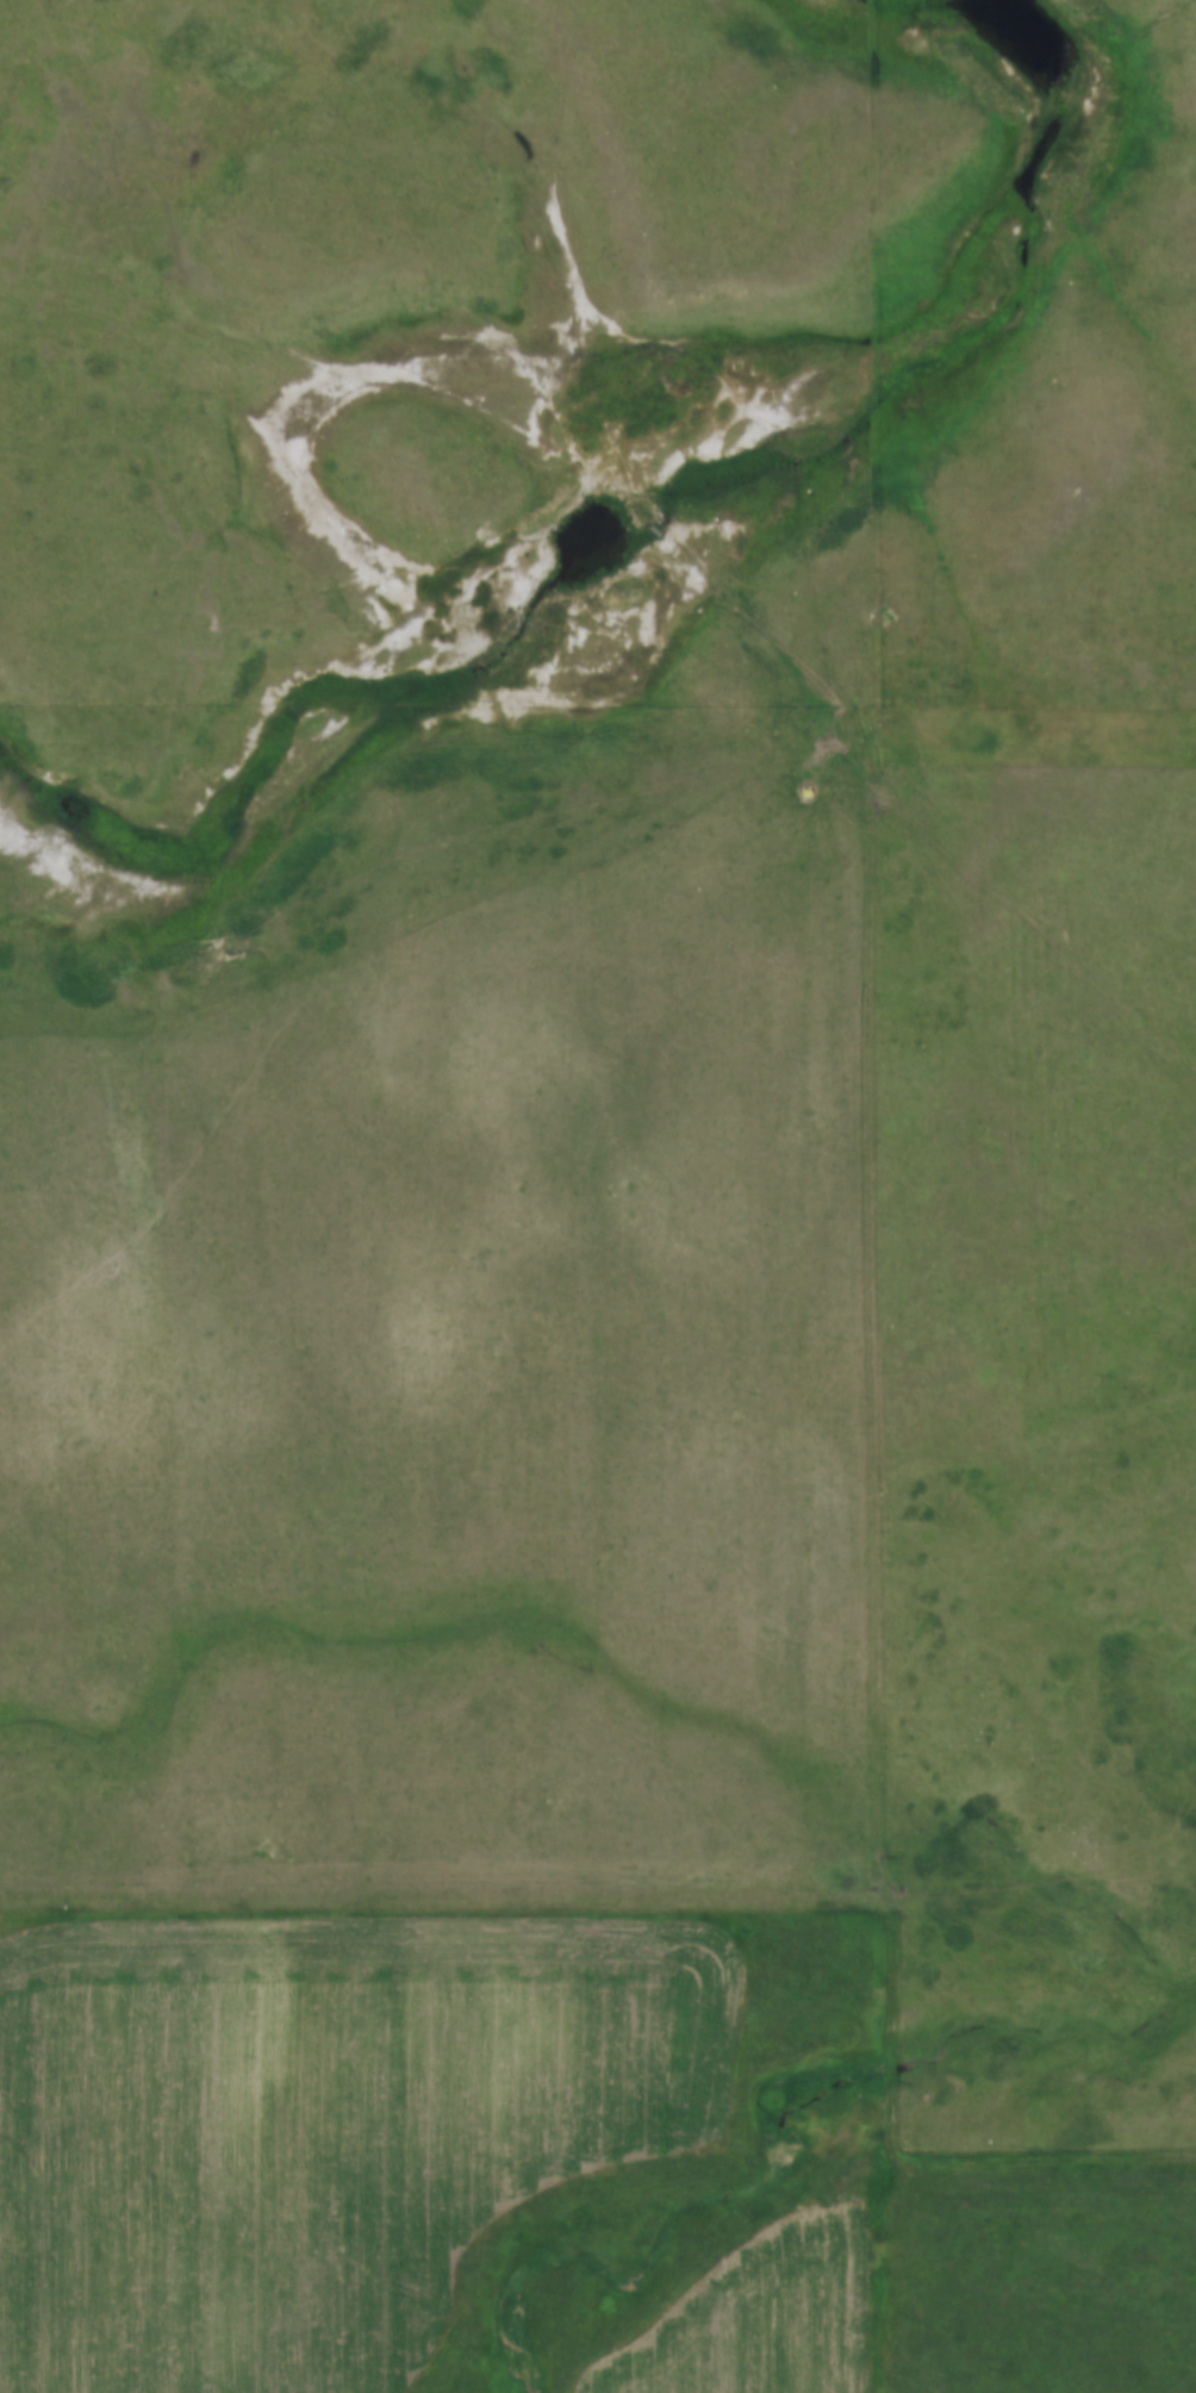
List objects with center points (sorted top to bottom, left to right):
road: (916, 2170)

